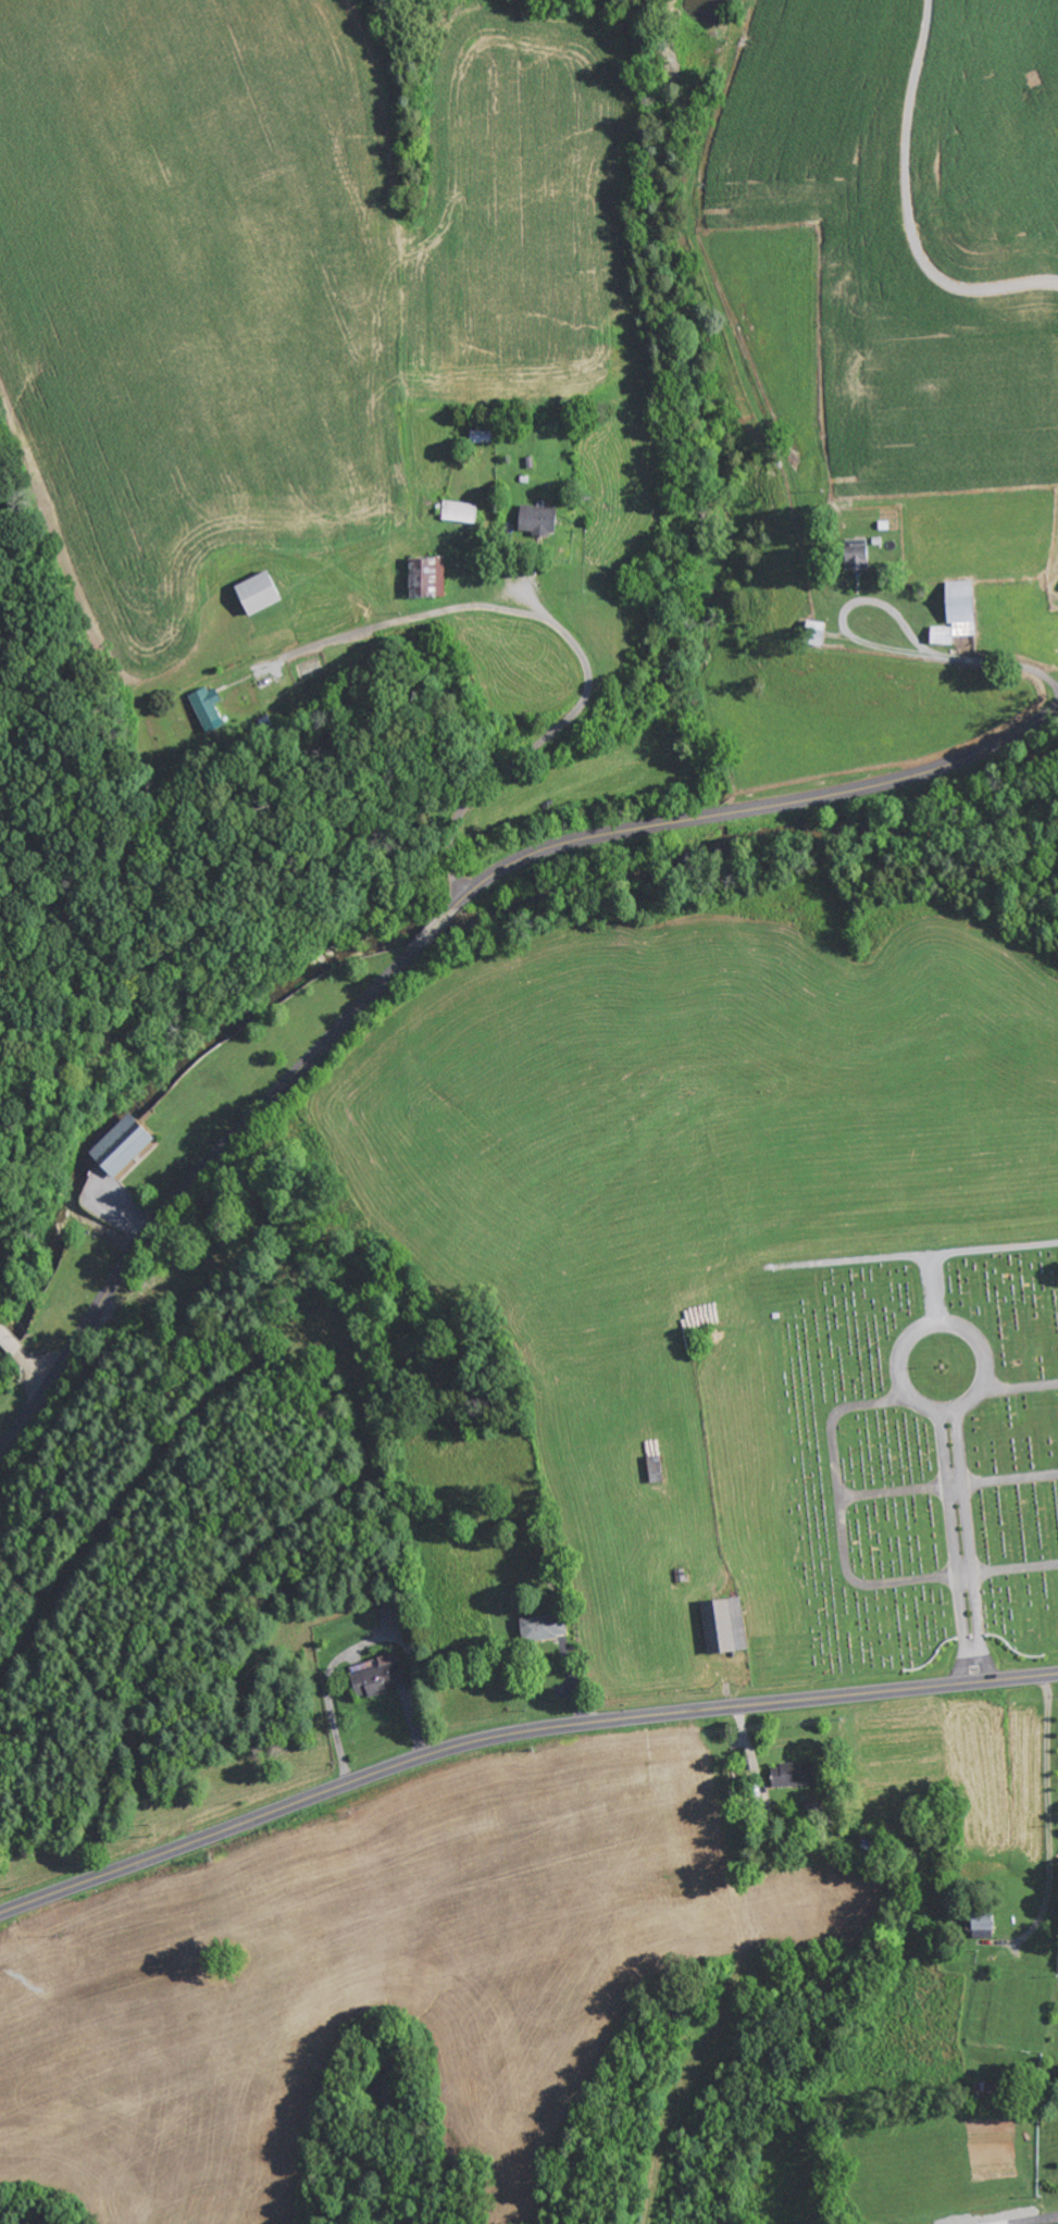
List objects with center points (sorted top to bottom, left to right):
building: (542, 520)
building: (856, 556)
building: (426, 576)
building: (254, 593)
building: (955, 612)
building: (204, 705)
road: (432, 932)
road: (351, 991)
building: (121, 1145)
road: (936, 1322)
park: (922, 1454)
road: (839, 1483)
road: (950, 1489)
road: (964, 1546)
building: (725, 1623)
building: (543, 1626)
building: (377, 1676)
road: (514, 1734)
building: (792, 1774)
building: (981, 1923)
building: (989, 2089)

